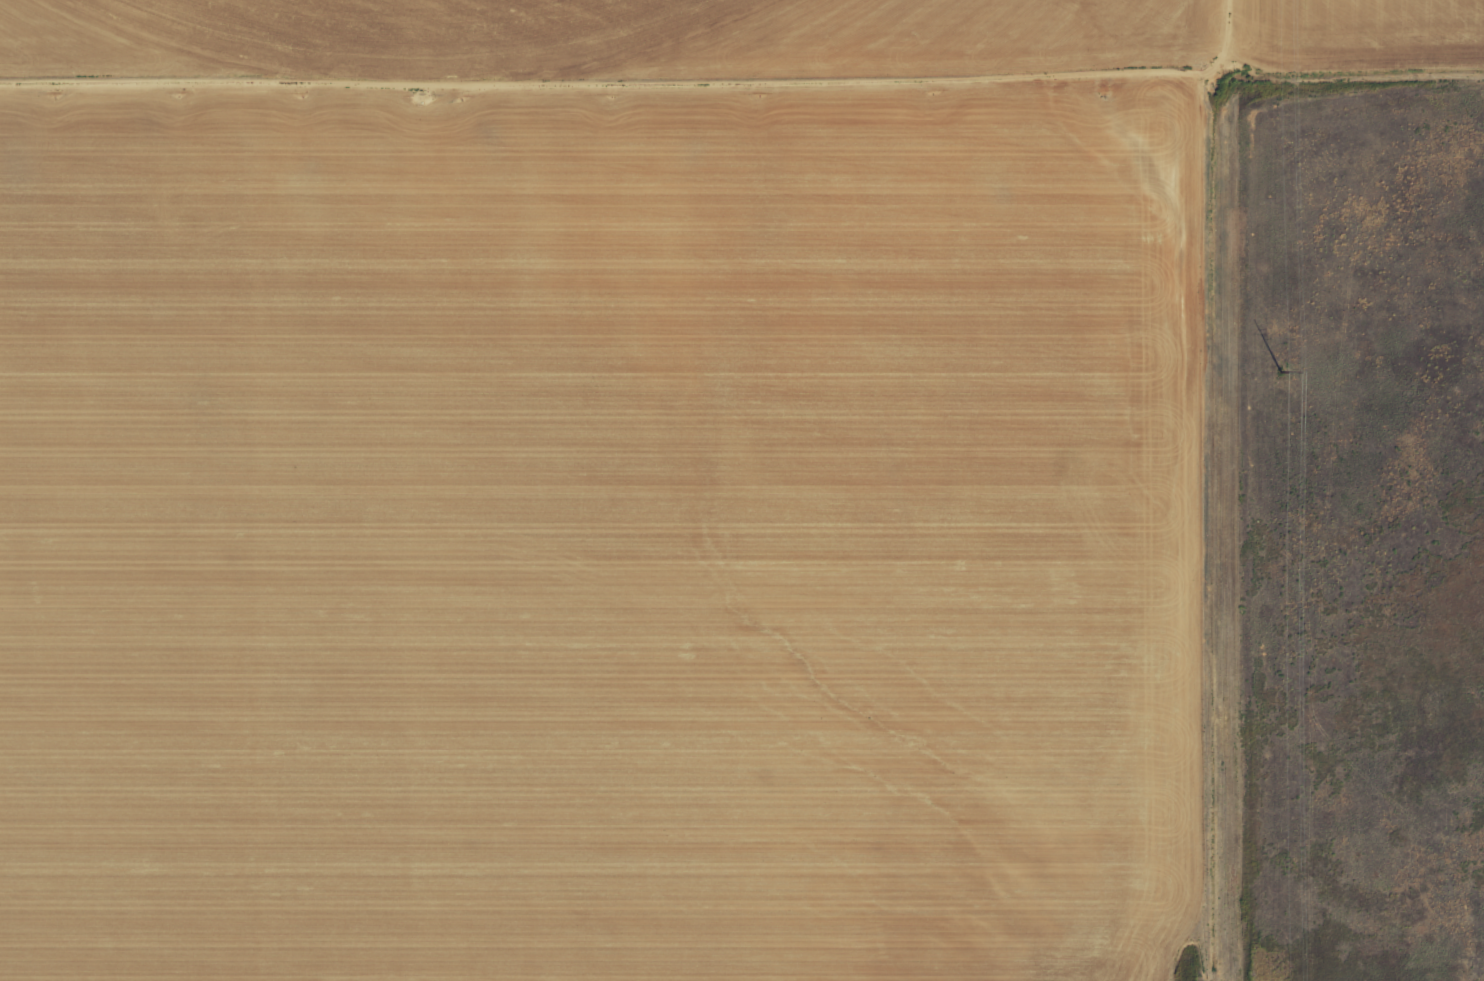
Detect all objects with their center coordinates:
power tower: (1280, 371)

